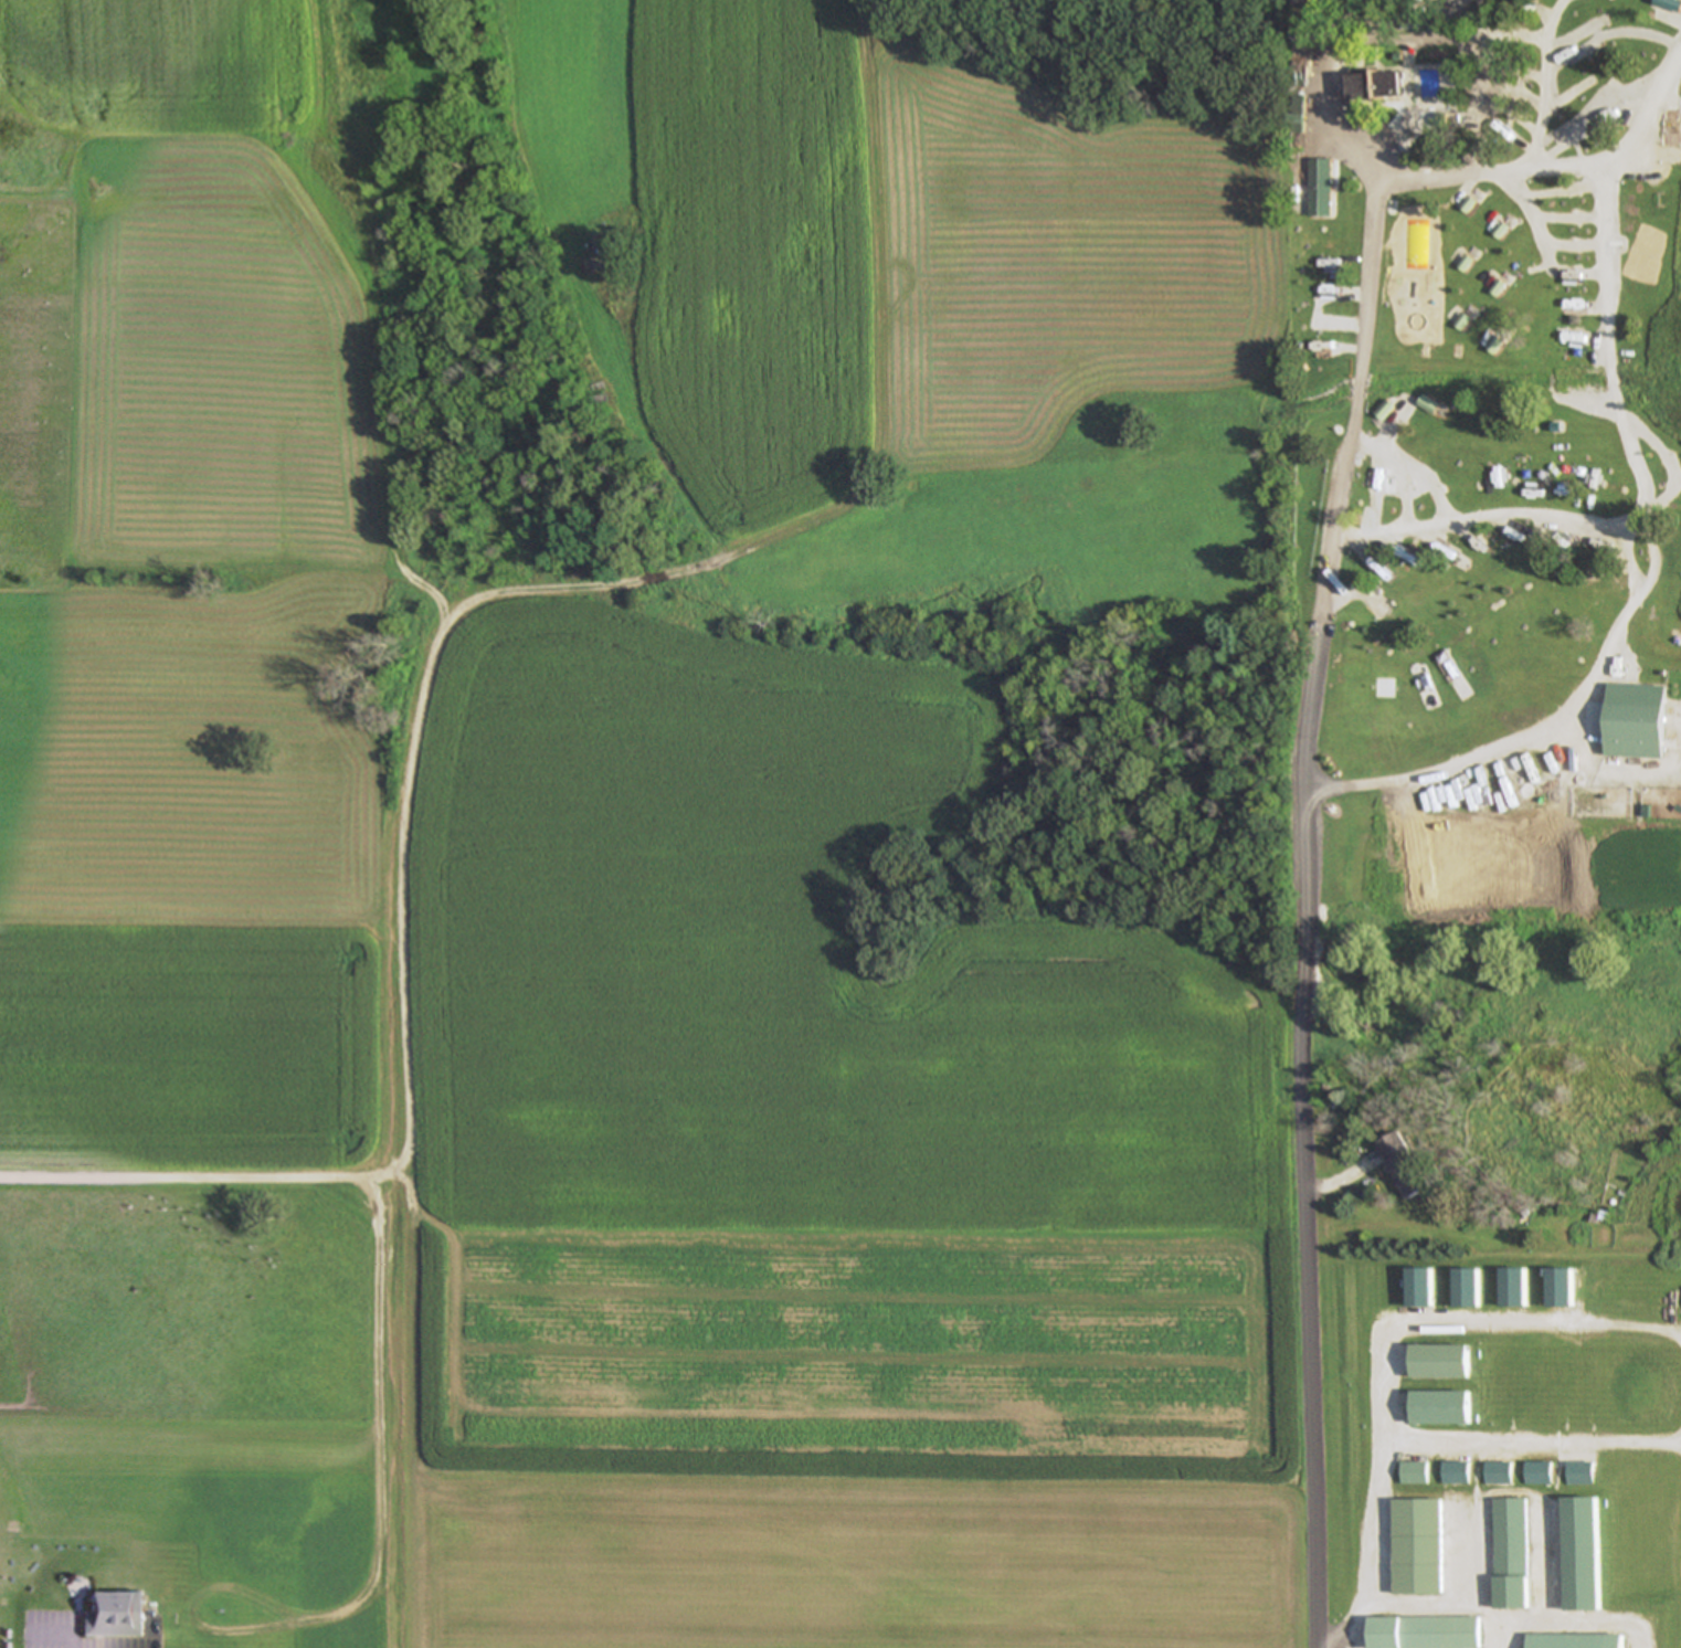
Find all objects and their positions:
building: (1376, 88)
road: (1319, 106)
road: (1533, 152)
road: (1640, 154)
building: (1320, 190)
road: (1524, 205)
road: (1607, 355)
building: (1429, 408)
building: (1385, 412)
road: (1344, 485)
road: (1551, 513)
building: (1631, 722)
road: (1446, 762)
building: (1405, 1168)
road: (1308, 1217)
building: (1514, 1289)
building: (1421, 1290)
building: (1468, 1290)
building: (1561, 1290)
road: (1384, 1343)
building: (1440, 1363)
building: (1441, 1409)
building: (1413, 1475)
building: (1453, 1475)
building: (1579, 1475)
building: (1497, 1476)
building: (1537, 1476)
building: (1417, 1549)
building: (1510, 1555)
building: (1582, 1555)
building: (112, 1617)
building: (1424, 1634)
road: (1329, 1641)
building: (1575, 1641)
road: (1349, 1644)

